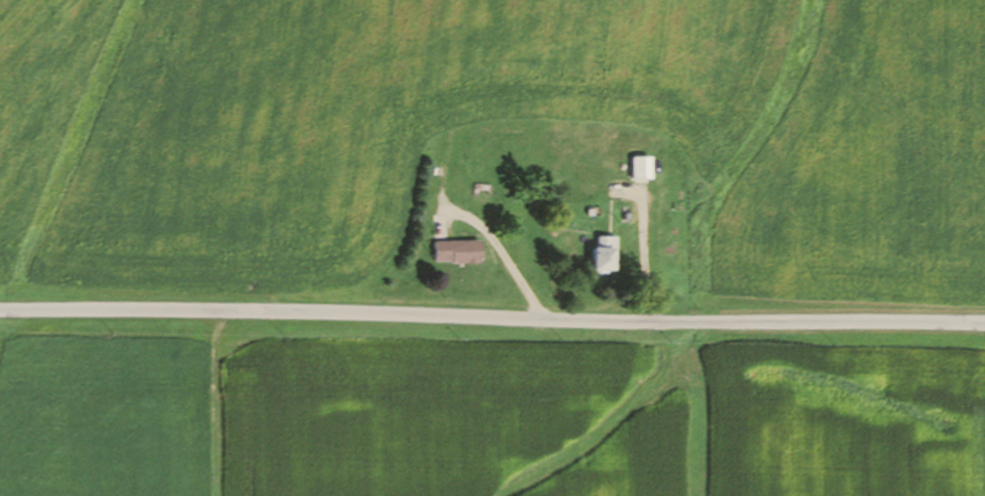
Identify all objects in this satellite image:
building: (642, 167)
building: (457, 252)
building: (604, 255)
road: (492, 316)

